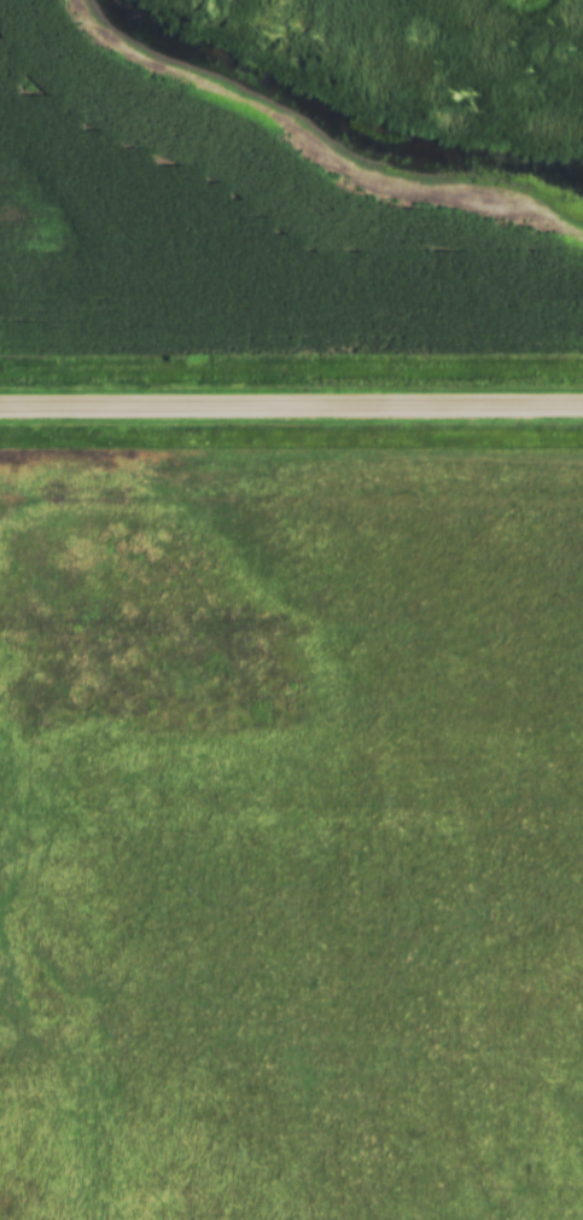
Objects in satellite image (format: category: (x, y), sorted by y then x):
road: (291, 408)

